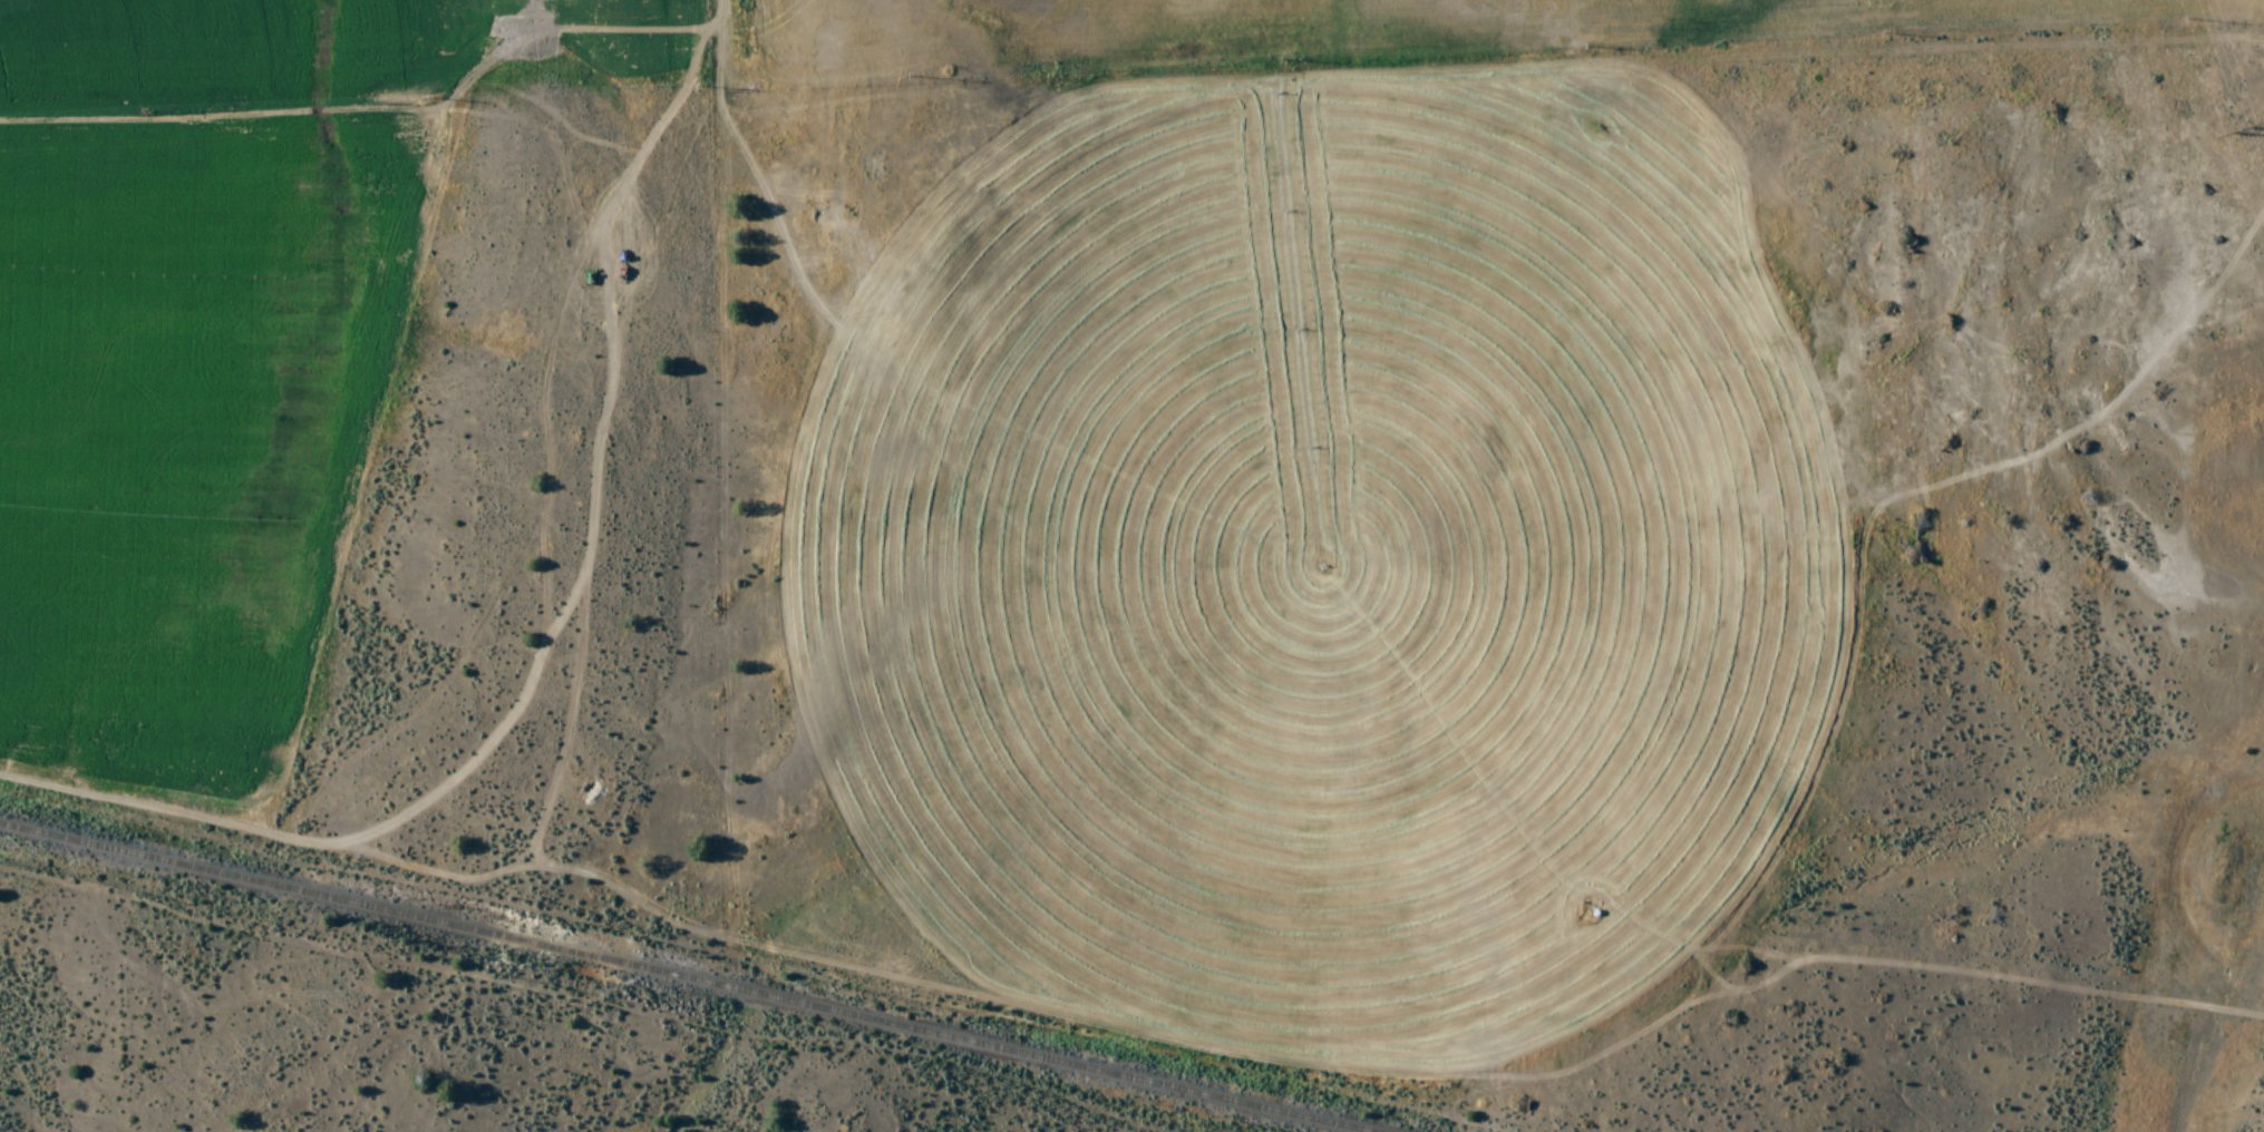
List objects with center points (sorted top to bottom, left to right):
road: (658, 10)
road: (713, 12)
road: (69, 47)
power tower: (2245, 131)
railway: (681, 980)

